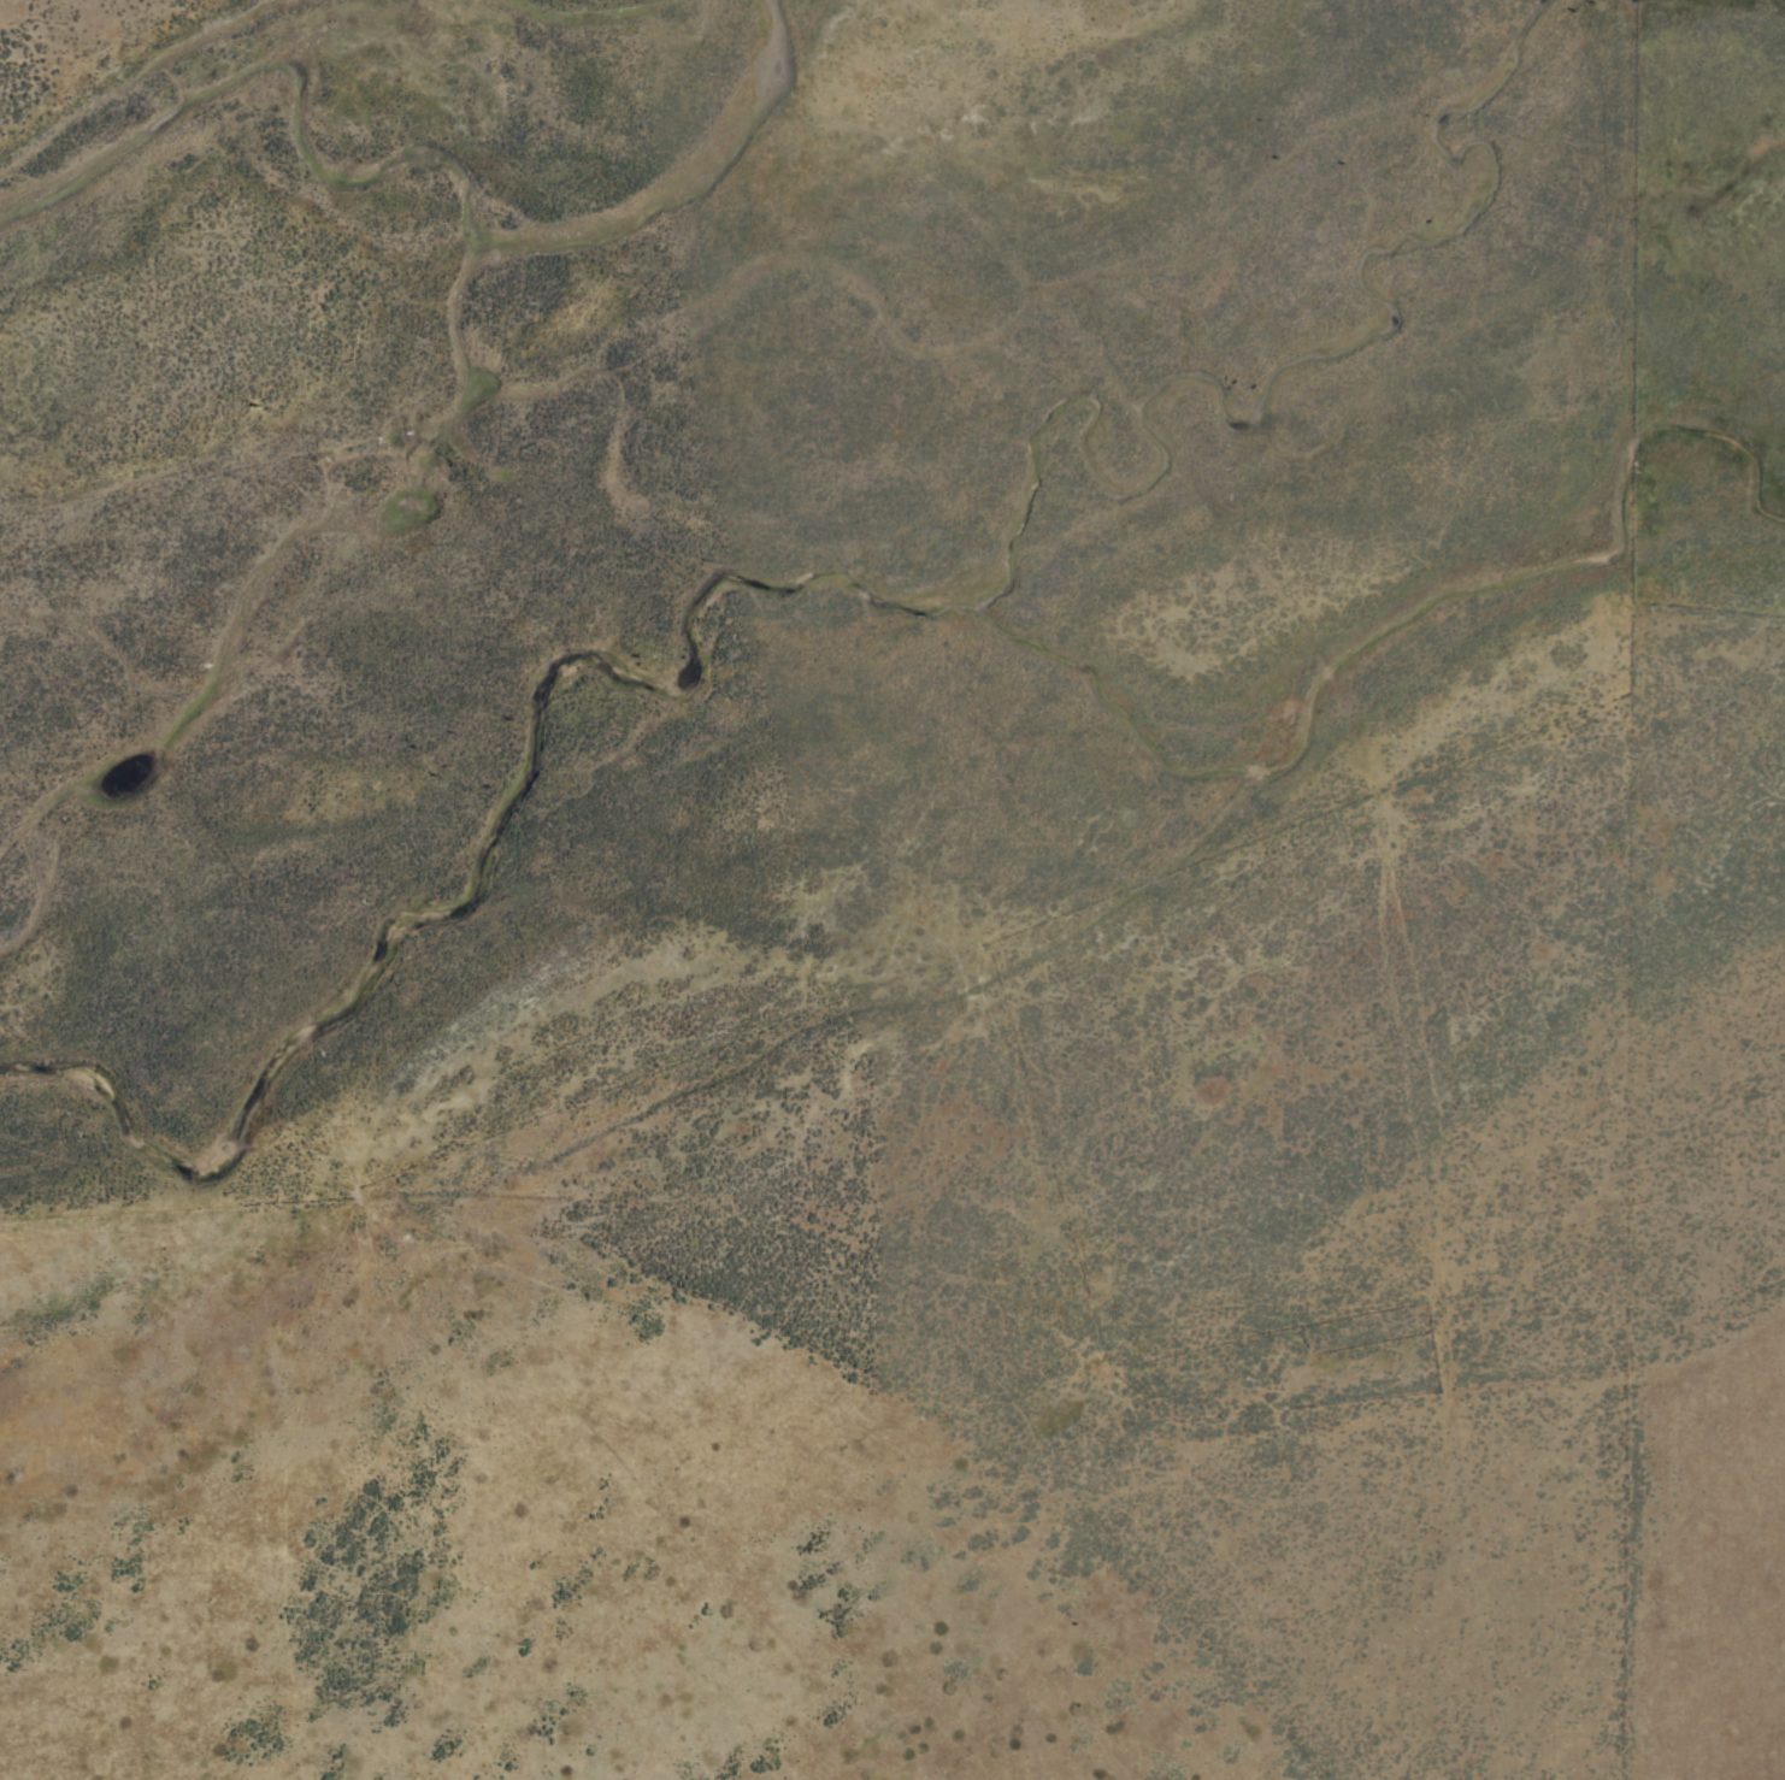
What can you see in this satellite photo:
crop: (892, 890)
road: (1274, 1430)

